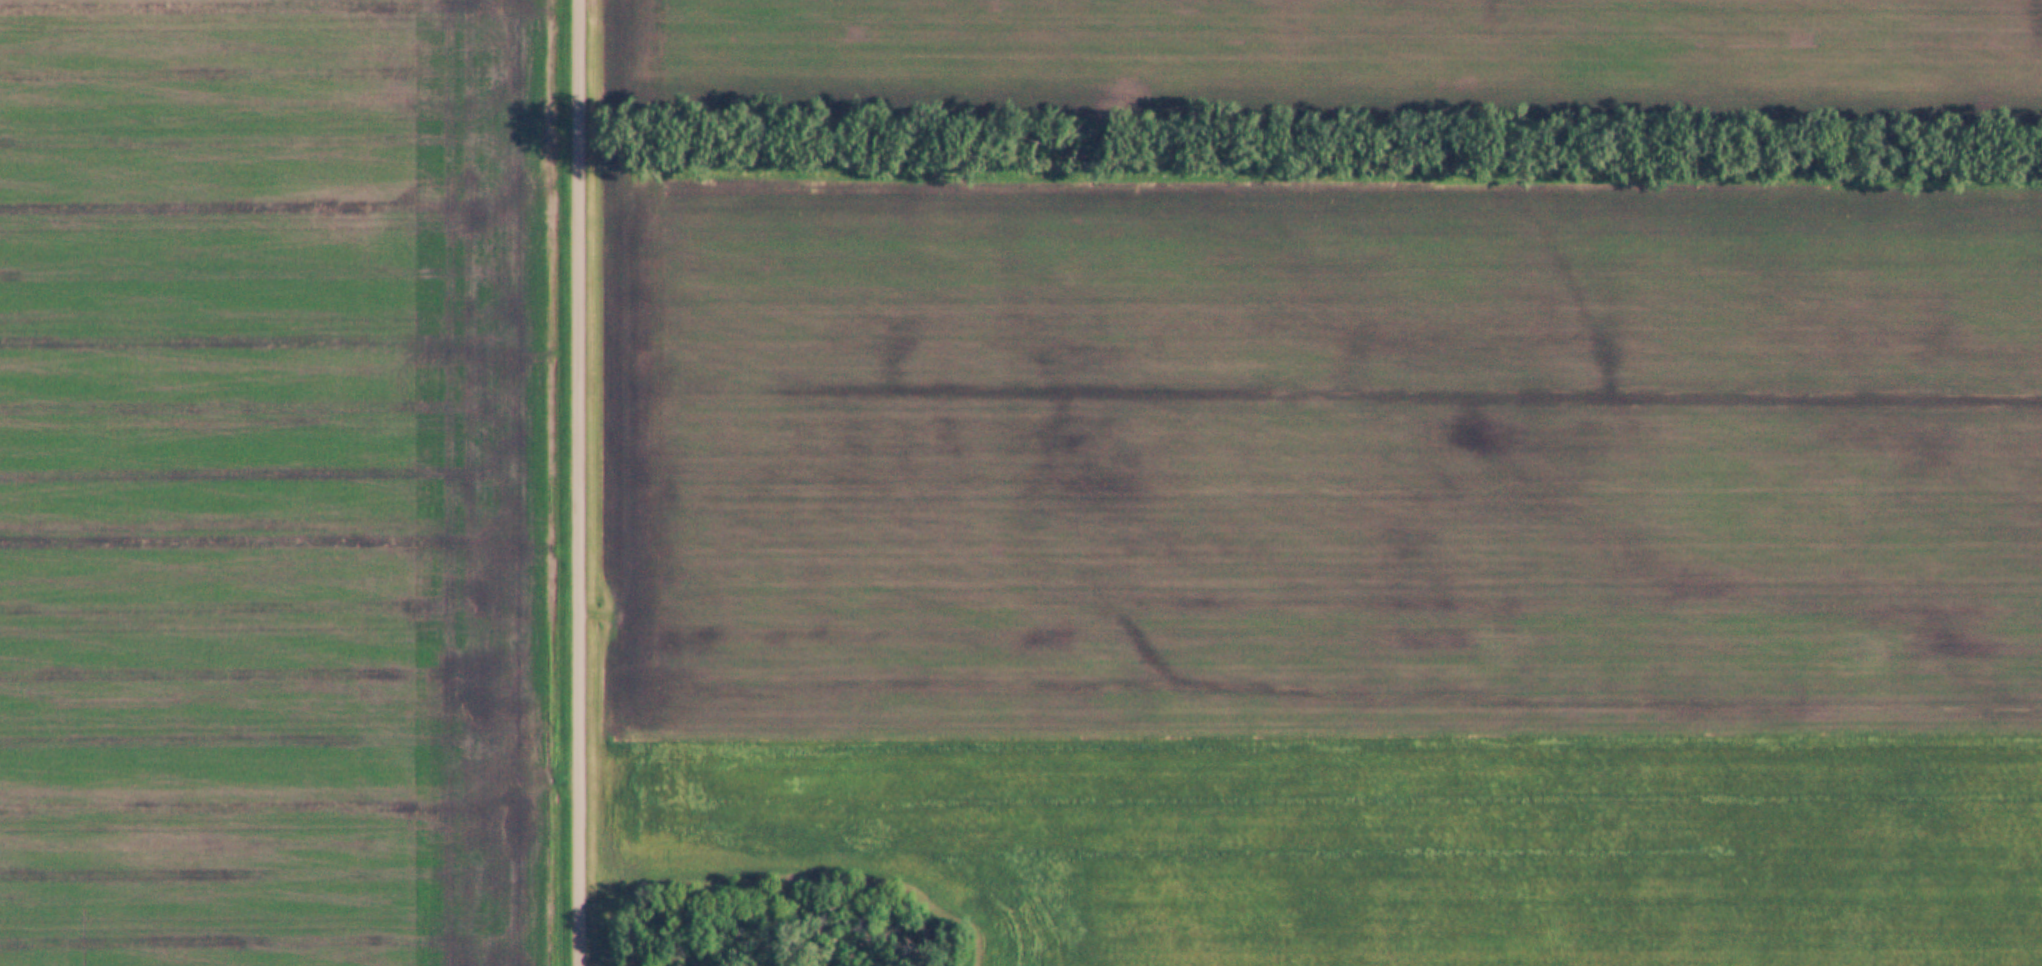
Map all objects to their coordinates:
road: (582, 482)

